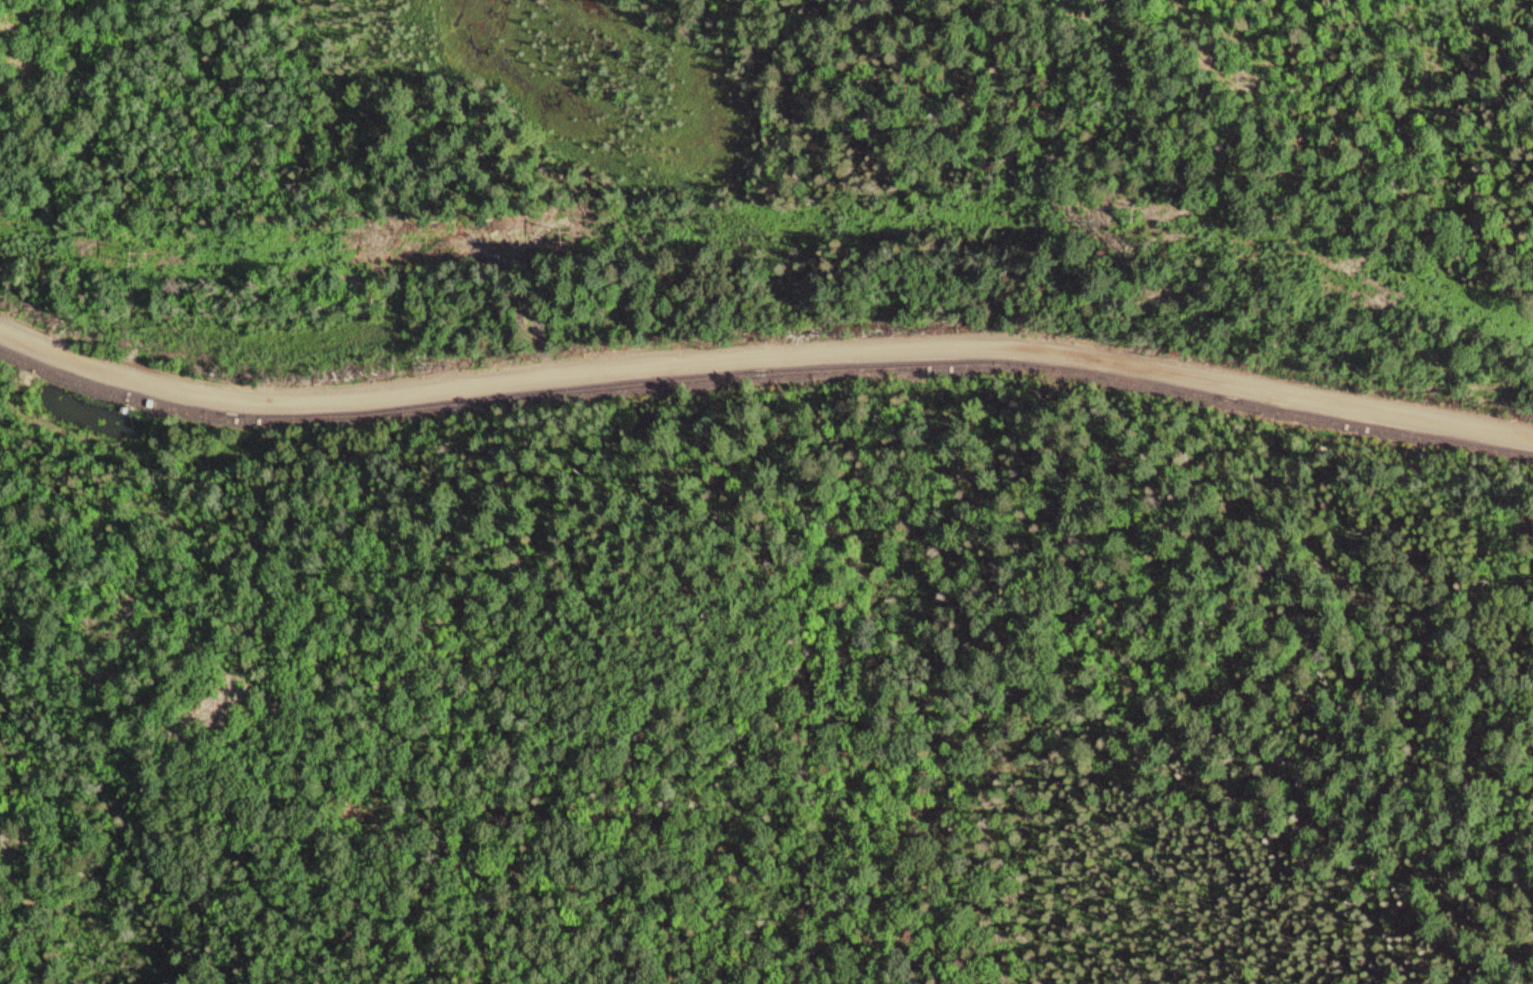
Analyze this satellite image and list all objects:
road: (223, 423)

